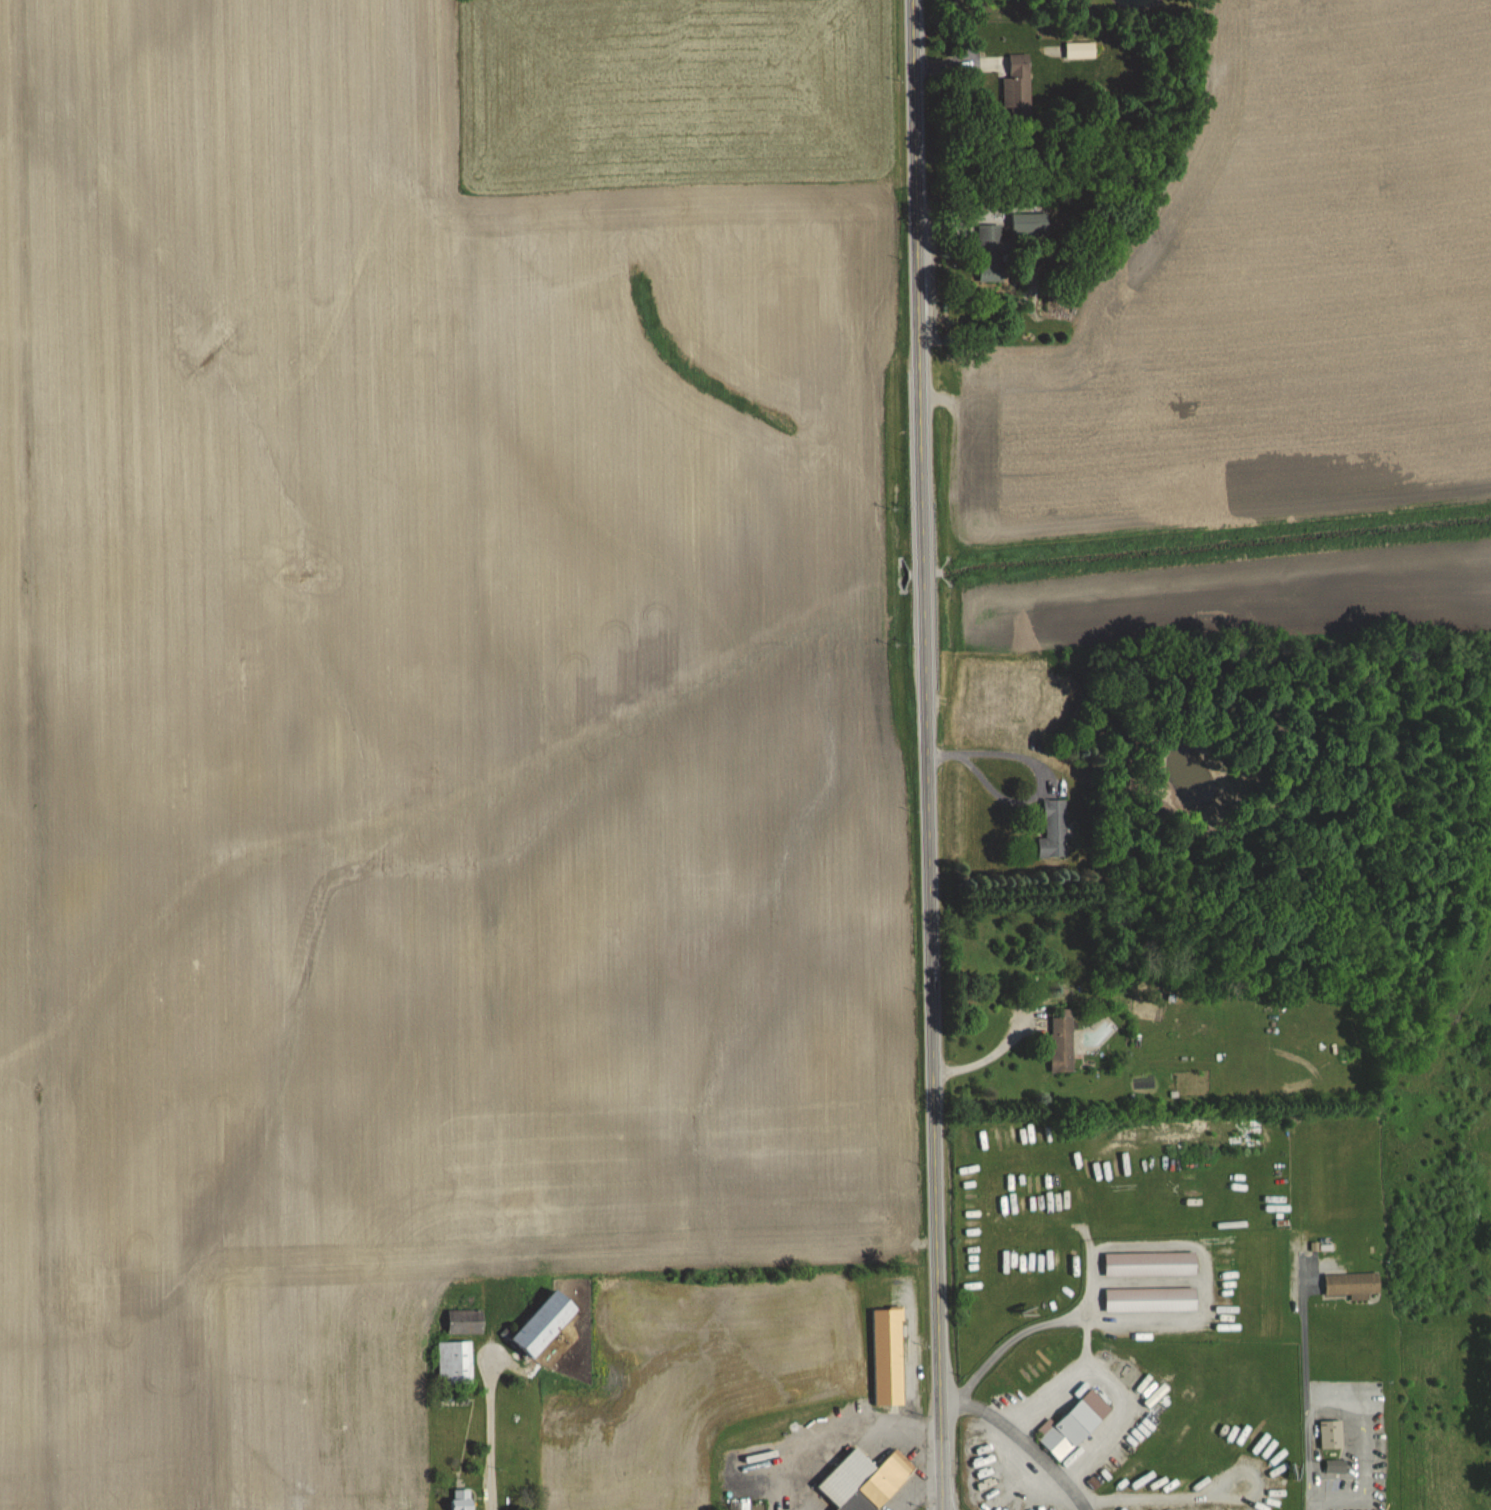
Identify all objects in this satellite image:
building: (1080, 51)
building: (988, 64)
building: (1017, 81)
building: (992, 252)
road: (930, 755)
road: (1044, 773)
building: (1054, 830)
building: (1062, 1042)
building: (1150, 1264)
building: (1351, 1285)
building: (1150, 1300)
building: (466, 1322)
building: (546, 1324)
building: (888, 1357)
building: (455, 1362)
road: (1303, 1406)
building: (1075, 1425)
building: (1331, 1435)
road: (487, 1436)
road: (1024, 1442)
building: (865, 1481)
building: (462, 1500)

